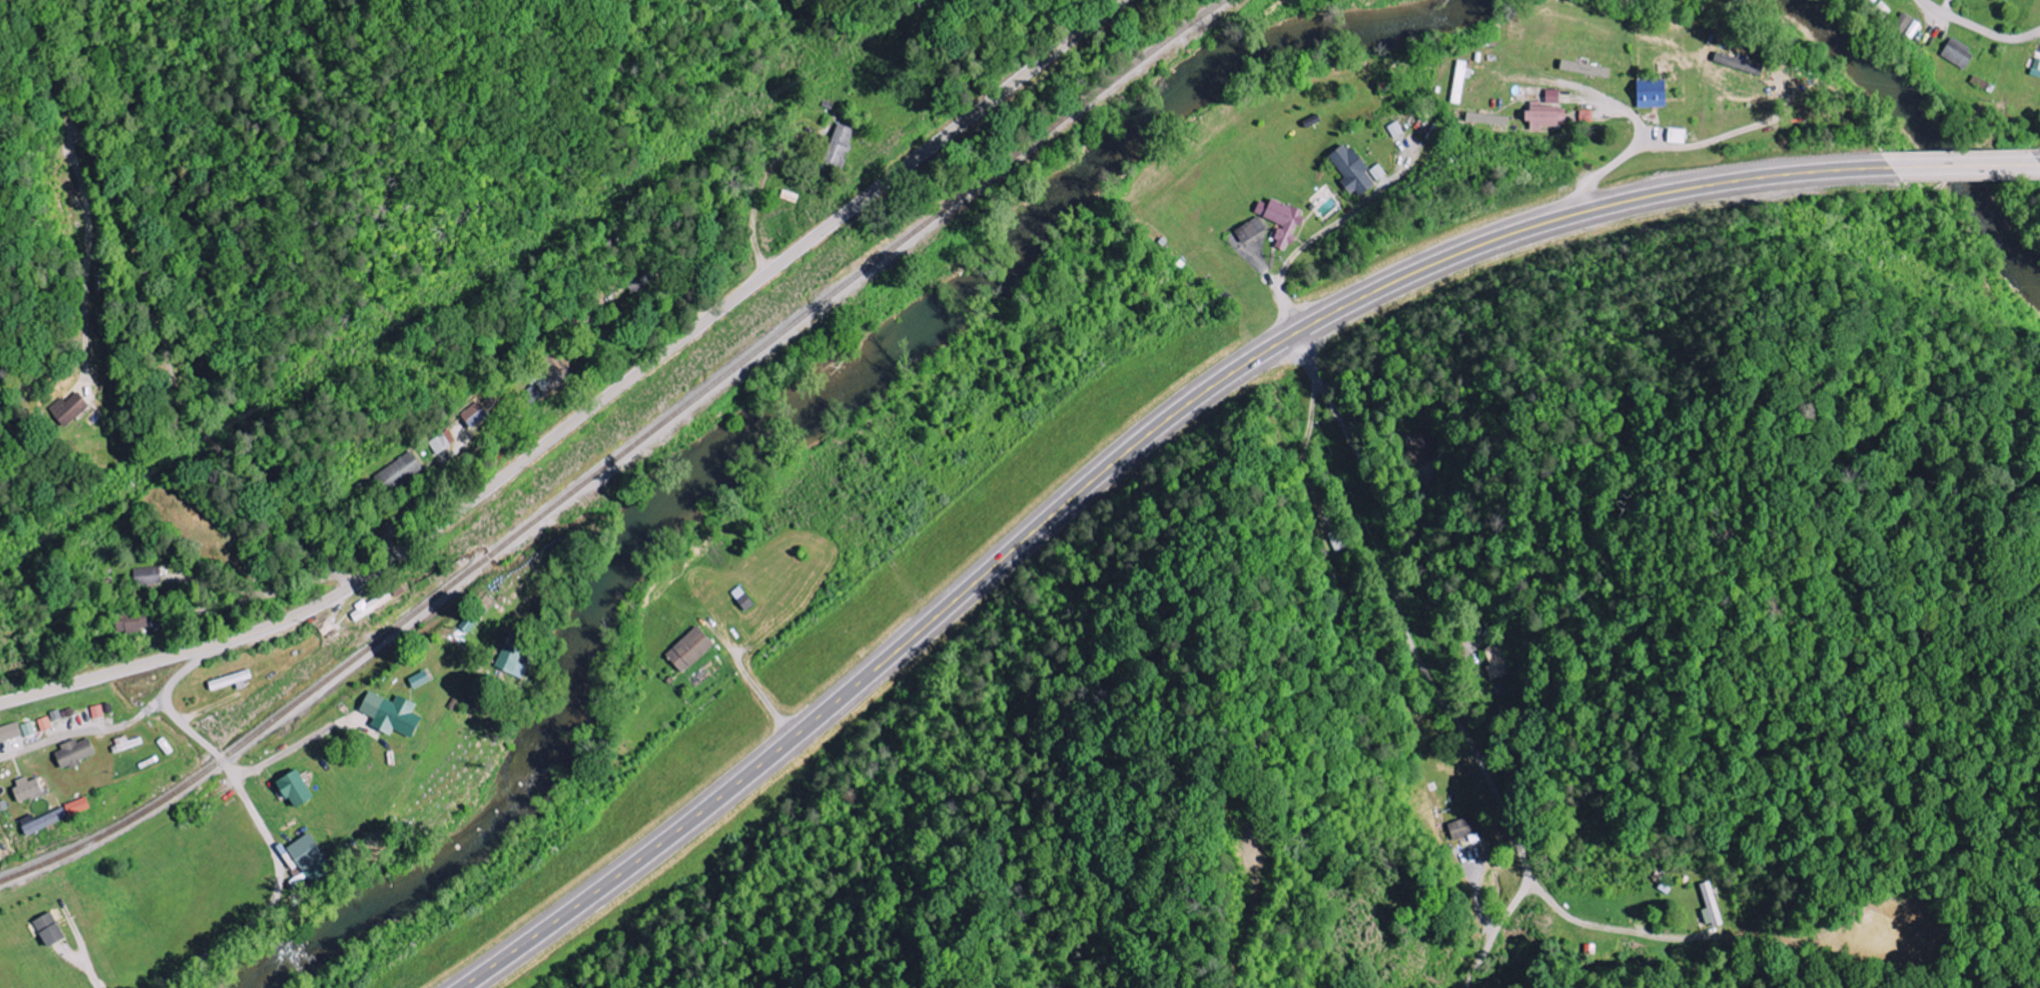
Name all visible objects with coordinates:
road: (1048, 20)
road: (1980, 29)
building: (1960, 54)
building: (1740, 64)
building: (2037, 67)
building: (1588, 69)
building: (1462, 82)
building: (1655, 94)
building: (1554, 96)
building: (1587, 115)
building: (1547, 116)
building: (1489, 119)
river: (1925, 127)
building: (1397, 130)
building: (1678, 136)
building: (840, 145)
road: (2037, 163)
road: (1613, 165)
road: (1962, 166)
building: (1353, 171)
building: (1379, 172)
building: (1283, 221)
building: (1251, 230)
building: (70, 409)
road: (592, 409)
building: (477, 415)
river: (790, 418)
building: (442, 442)
building: (1422, 448)
railway: (622, 452)
road: (1118, 460)
building: (400, 473)
building: (1340, 540)
building: (148, 576)
road: (289, 589)
building: (371, 606)
building: (132, 622)
building: (471, 622)
building: (691, 649)
building: (514, 654)
building: (1497, 662)
building: (421, 679)
building: (98, 711)
road: (1451, 712)
building: (394, 714)
road: (42, 723)
building: (45, 723)
building: (28, 729)
building: (10, 732)
building: (127, 743)
building: (76, 752)
road: (220, 755)
building: (28, 788)
building: (297, 788)
building: (79, 806)
building: (44, 821)
building: (1463, 829)
building: (312, 858)
building: (1712, 905)
building: (51, 929)

